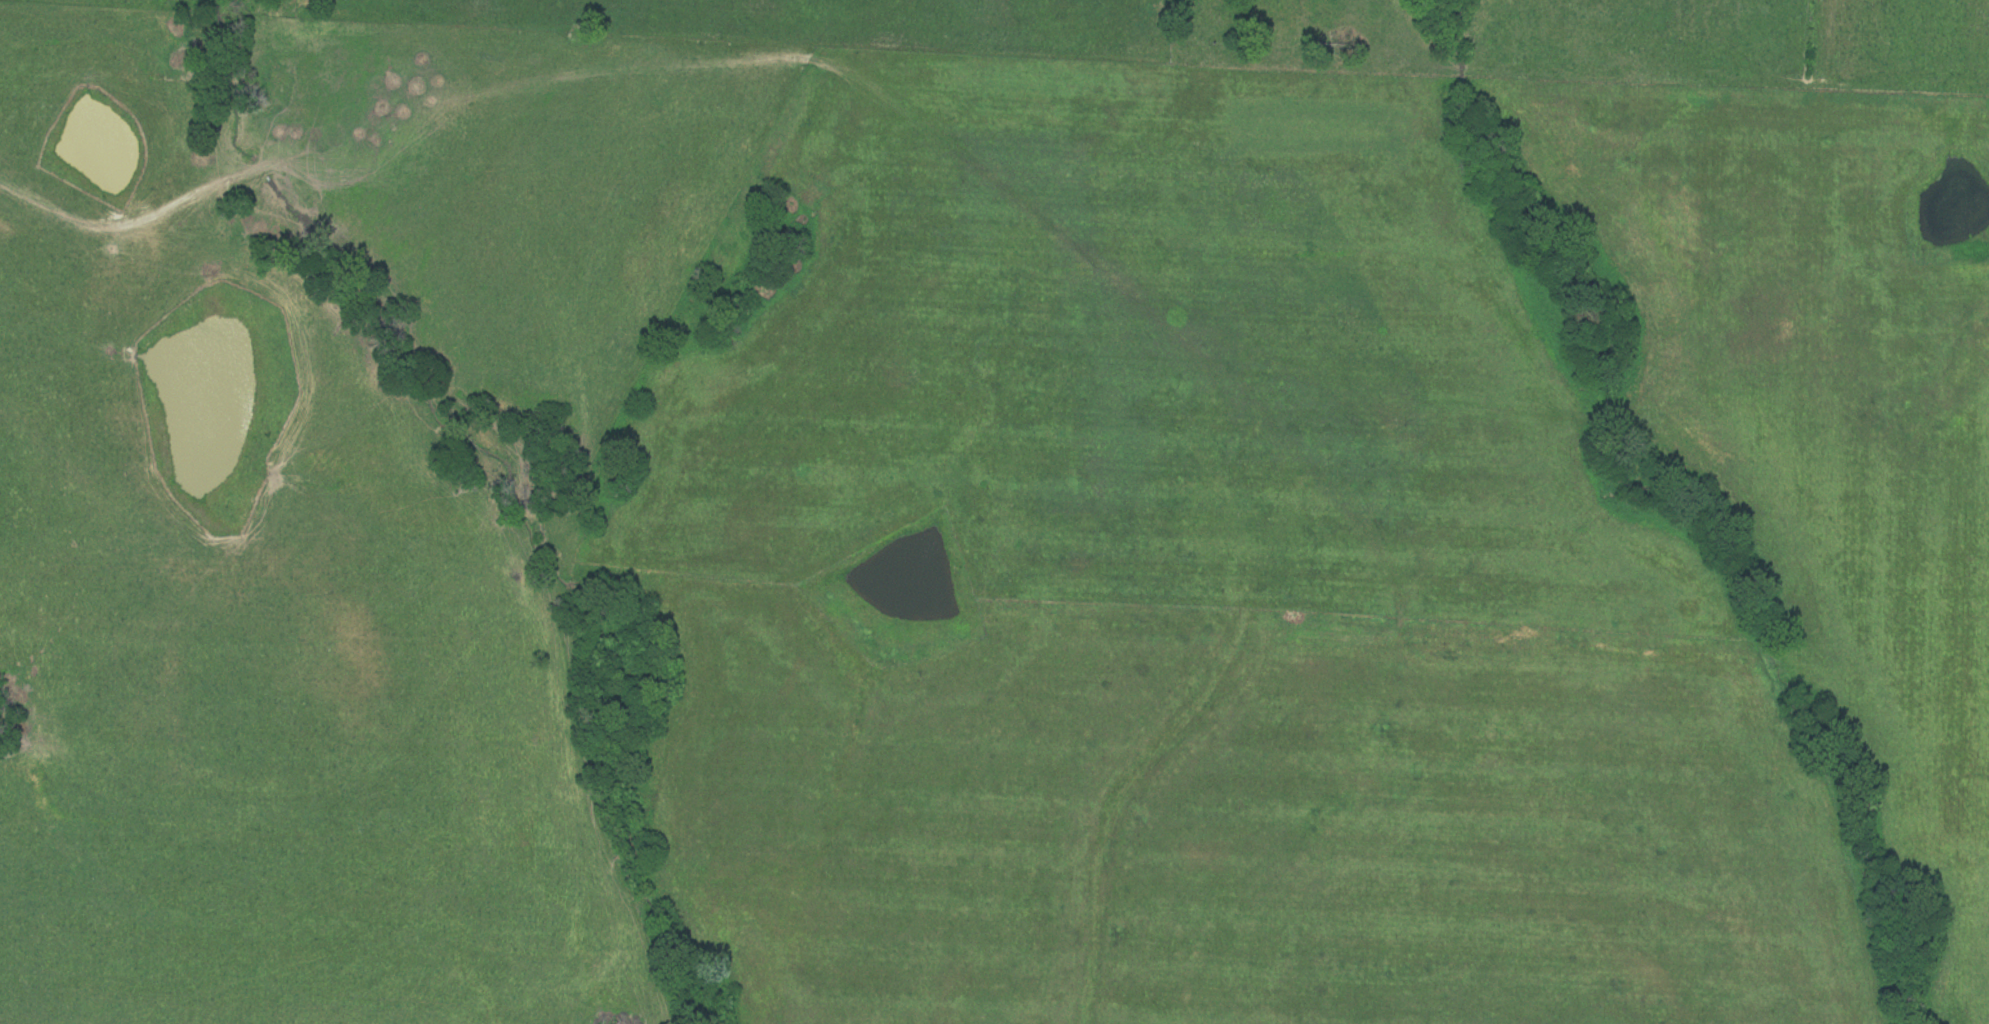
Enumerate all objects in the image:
road: (394, 112)

